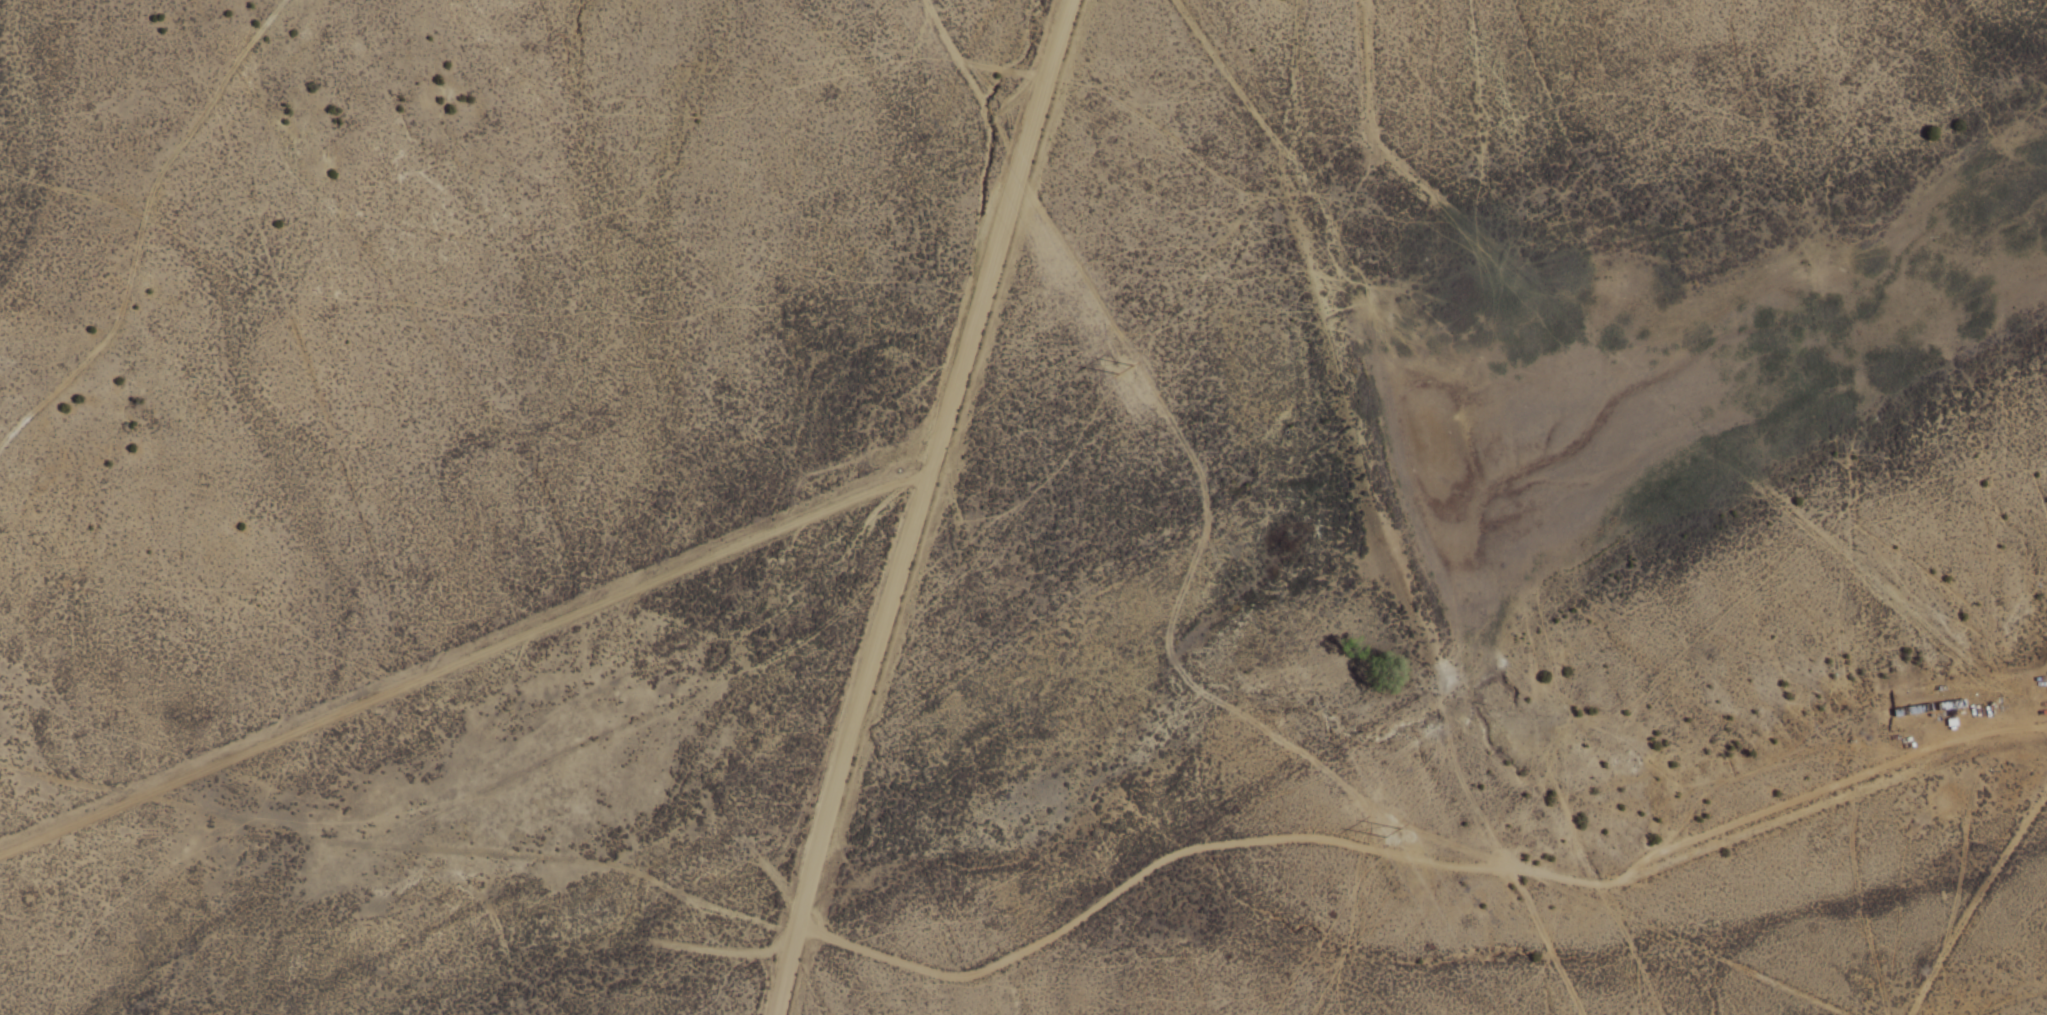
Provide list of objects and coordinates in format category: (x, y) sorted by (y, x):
power tower: (1121, 362)
road: (921, 507)
river: (1270, 560)
building: (1914, 711)
power tower: (1391, 841)
road: (1975, 902)

